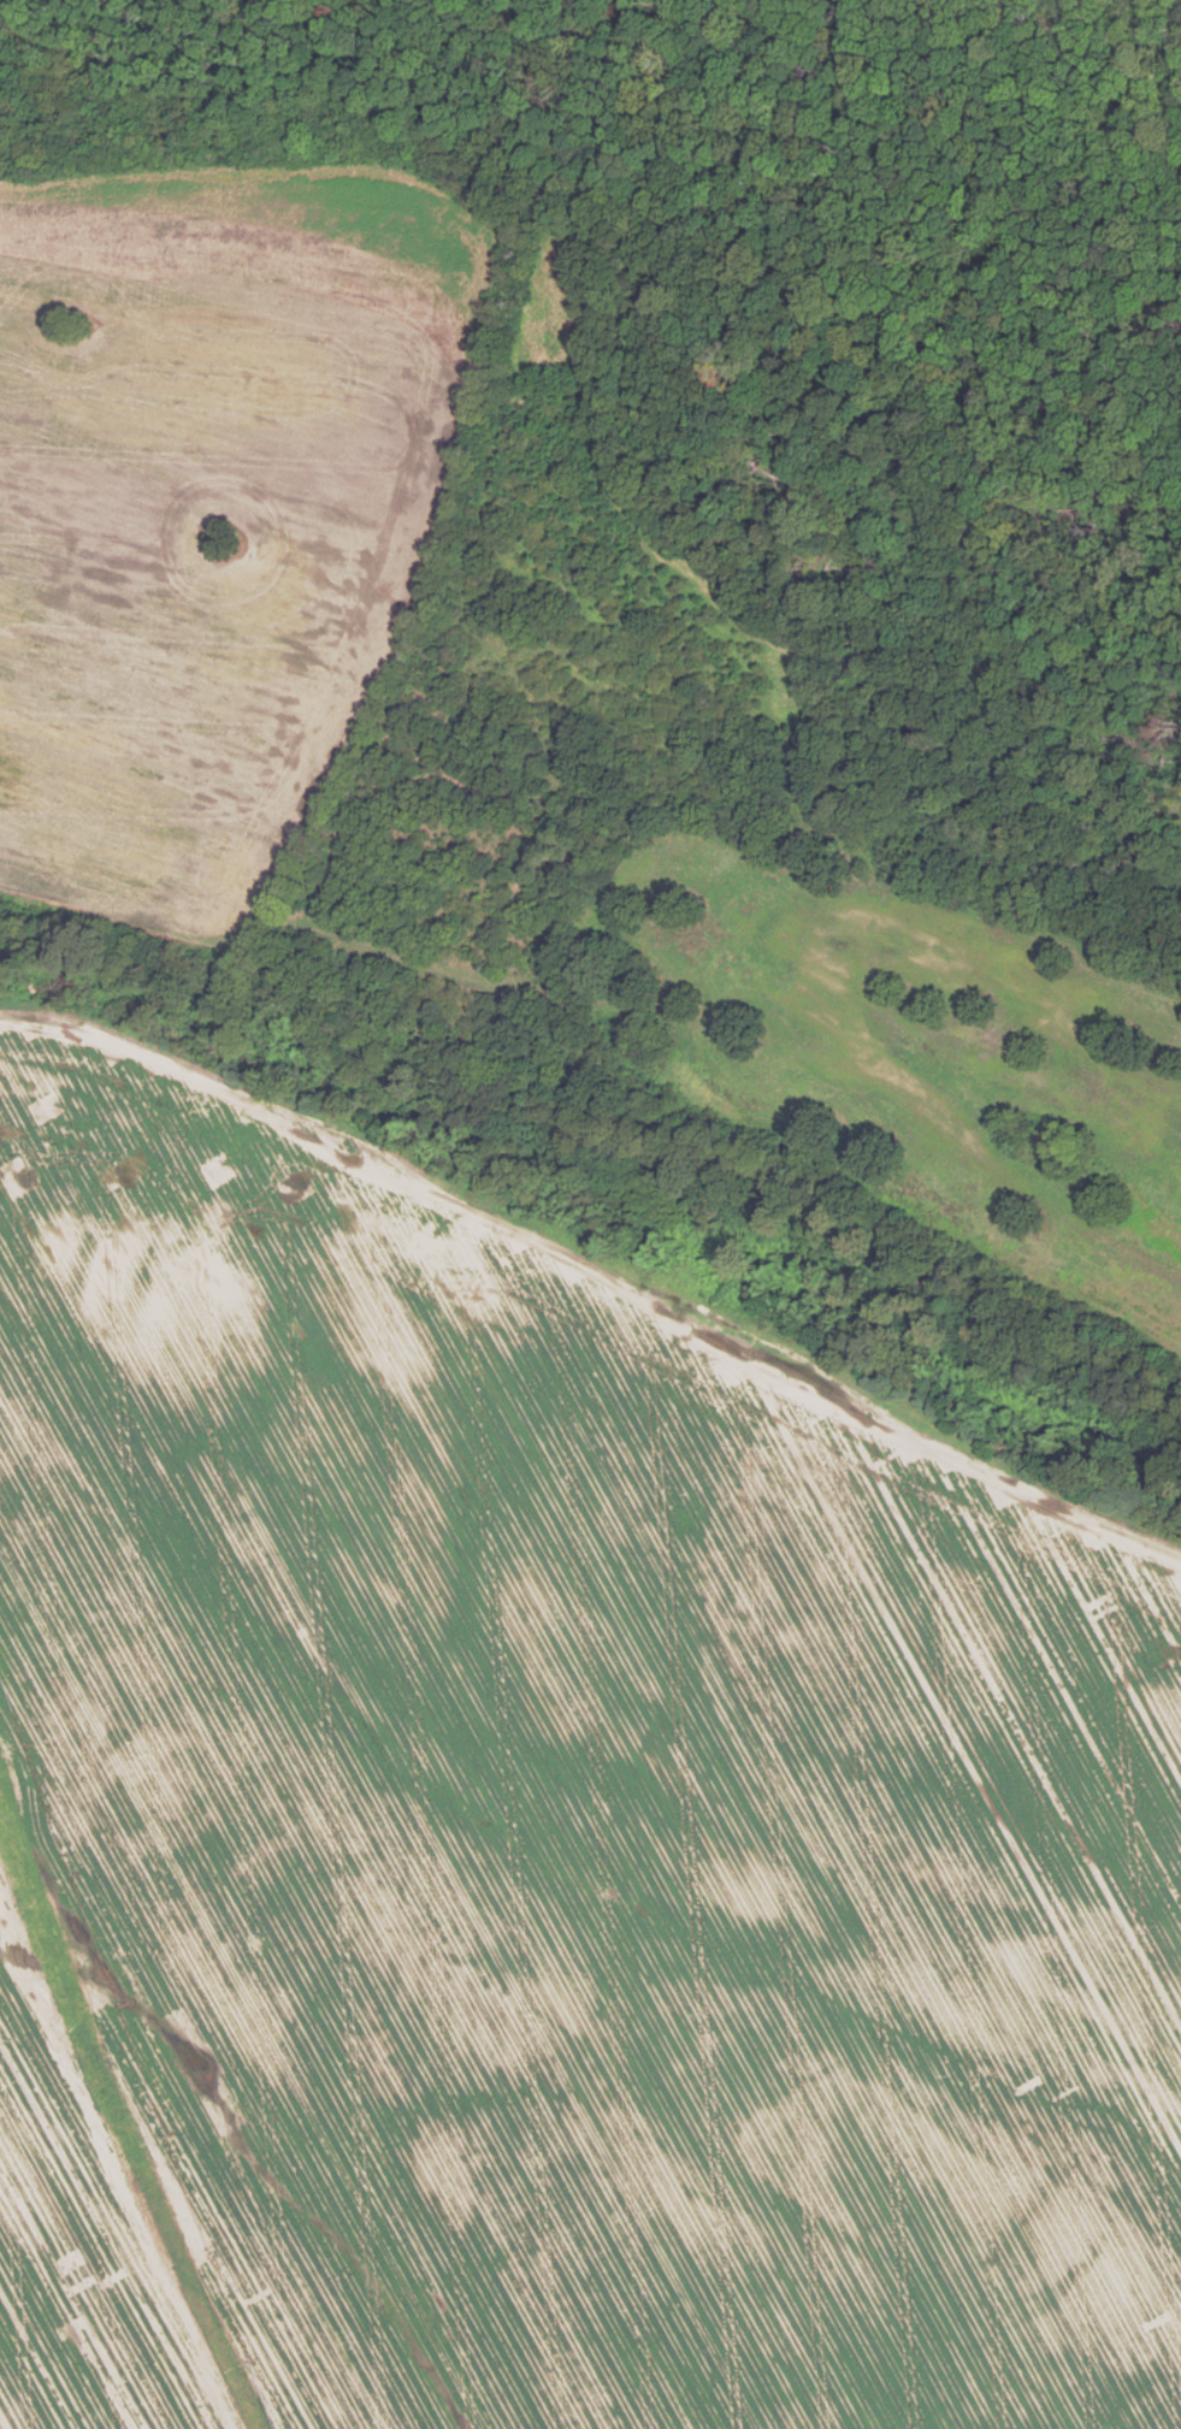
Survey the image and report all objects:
road: (594, 1271)
road: (437, 1917)

